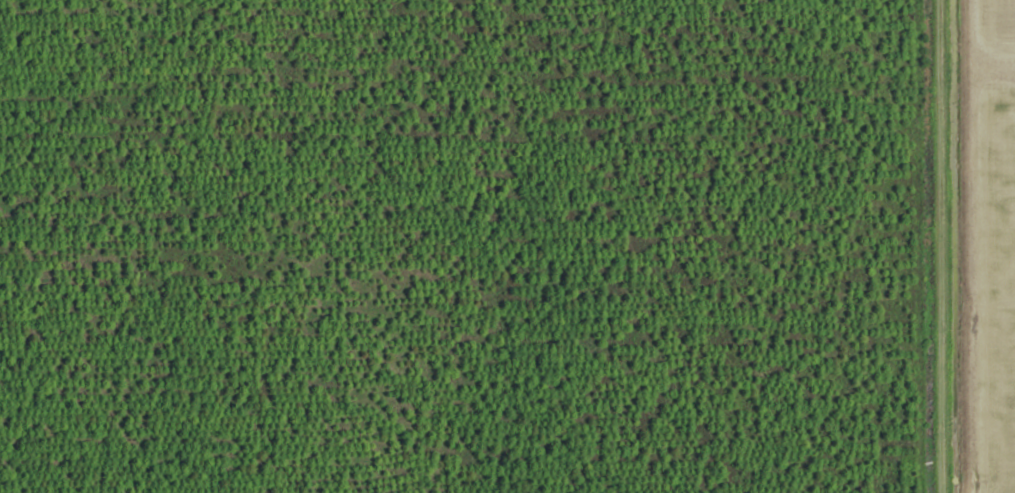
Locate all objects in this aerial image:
road: (942, 246)

